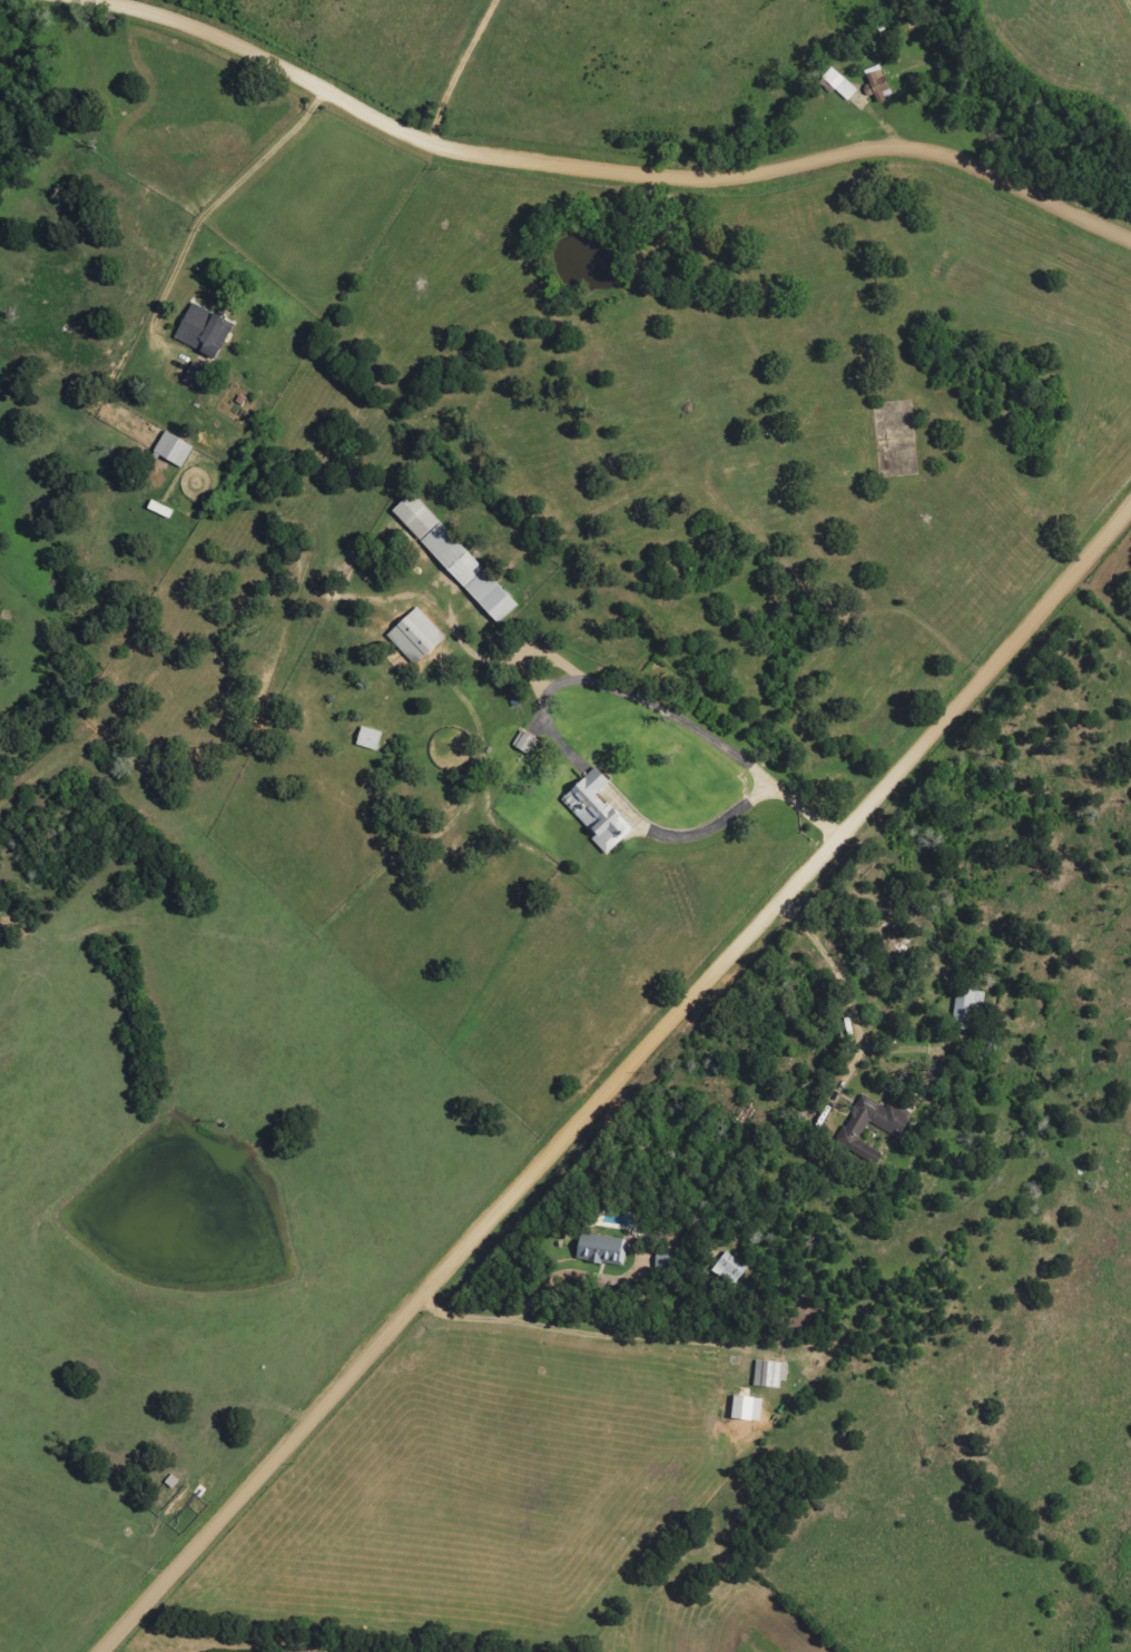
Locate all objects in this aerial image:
road: (441, 61)
building: (840, 83)
road: (614, 168)
road: (232, 180)
building: (206, 330)
building: (200, 376)
building: (176, 449)
building: (459, 558)
building: (420, 636)
building: (372, 738)
building: (528, 741)
road: (618, 1081)
building: (603, 1249)
building: (750, 1408)

